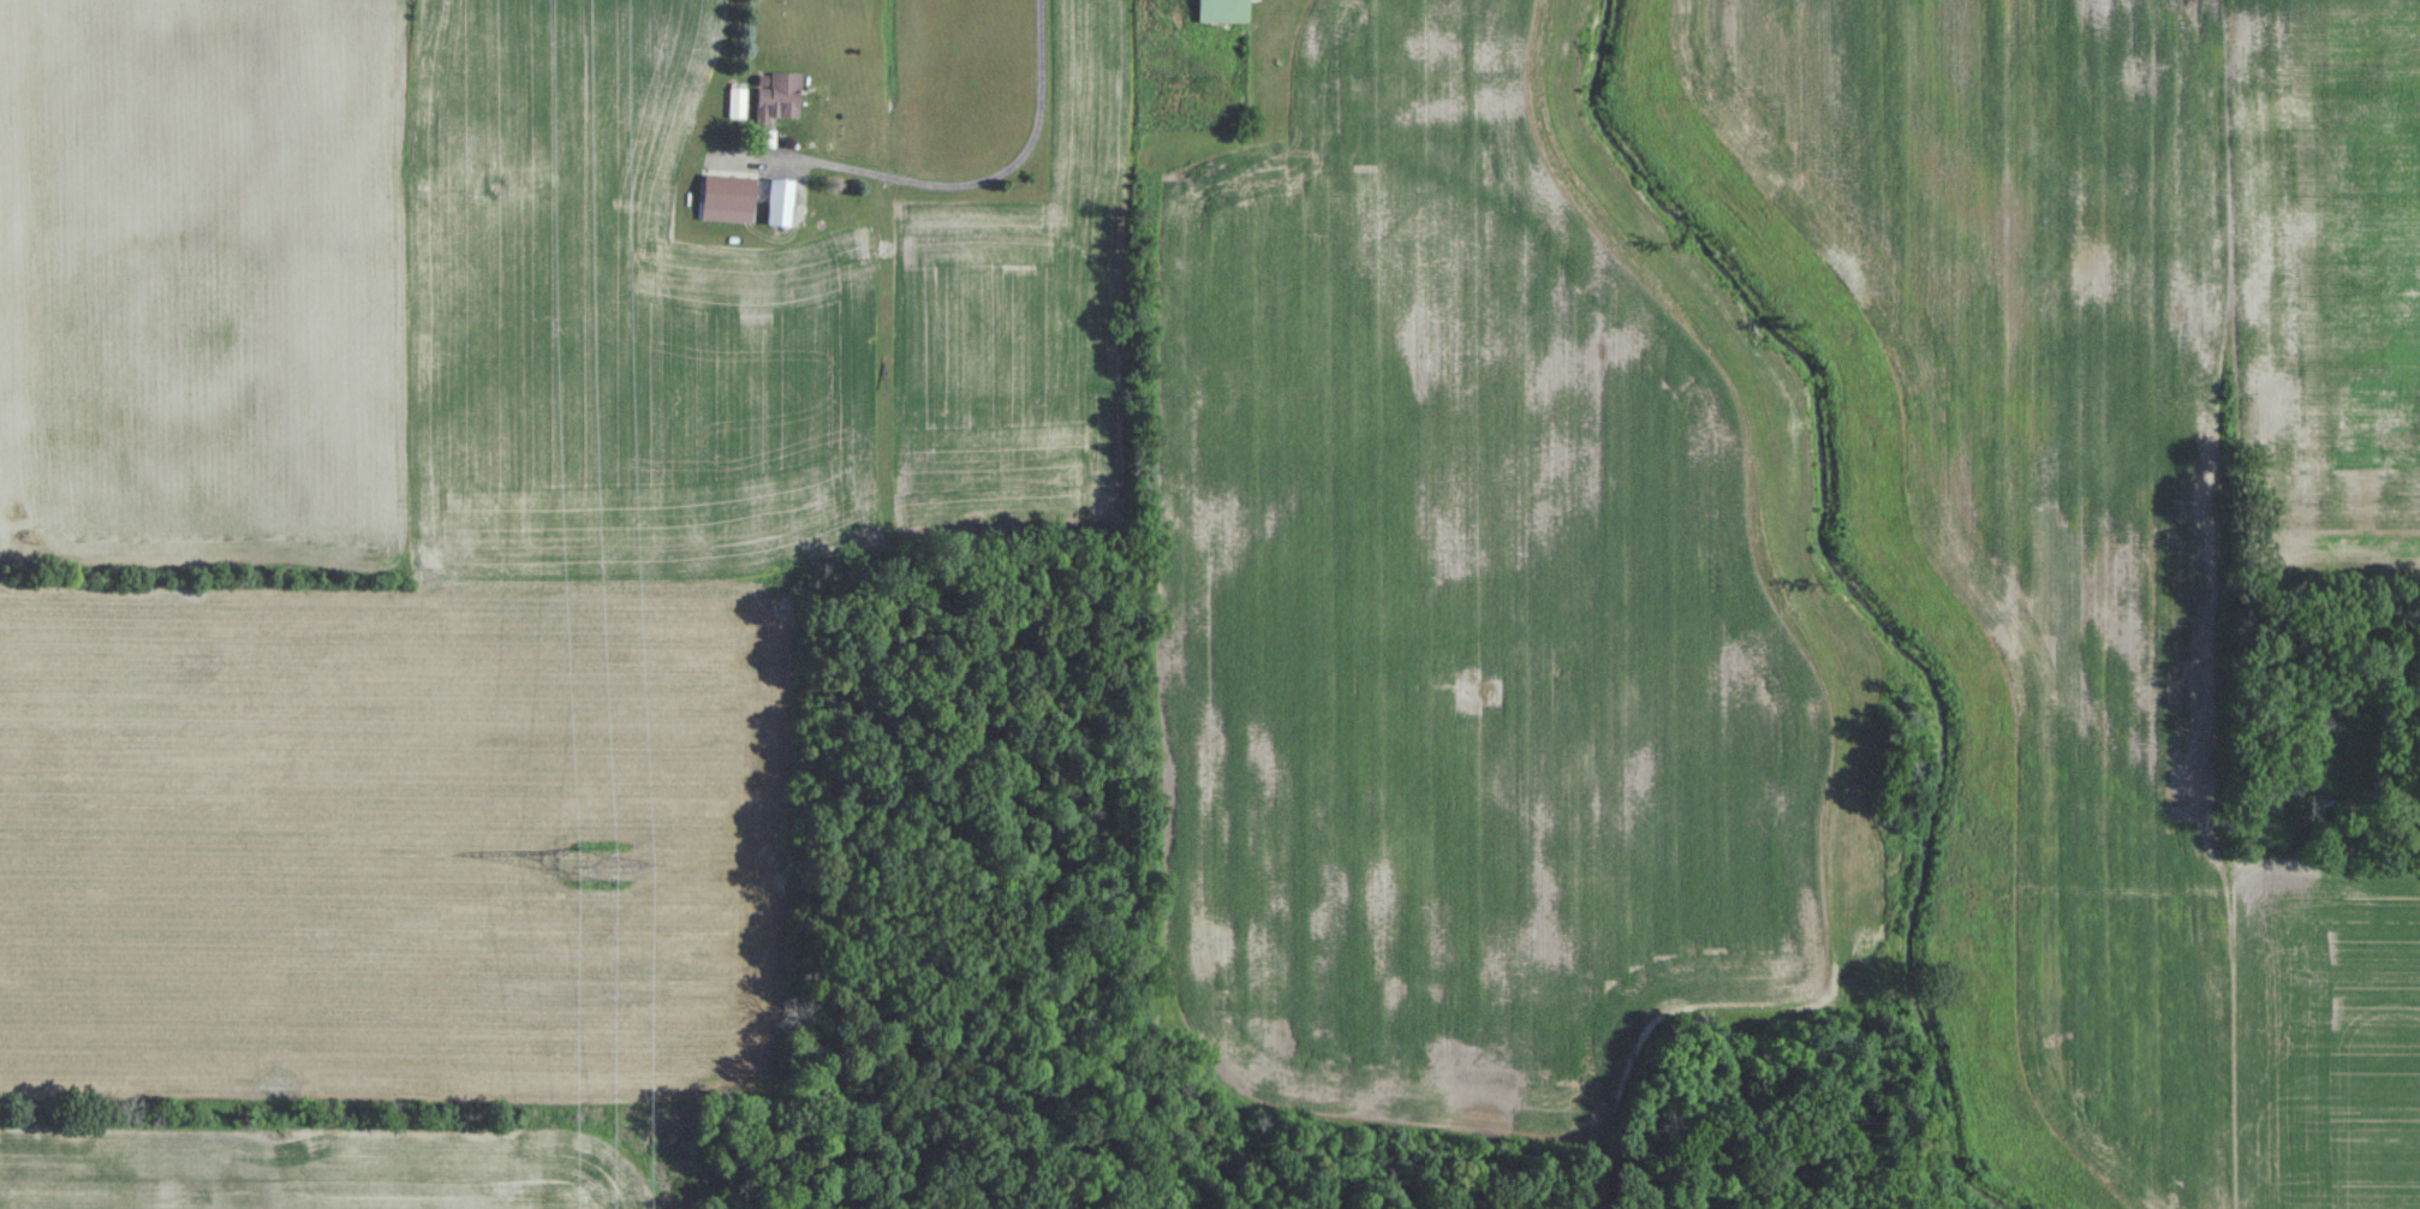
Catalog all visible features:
building: (782, 96)
road: (985, 177)
building: (783, 199)
power tower: (601, 862)

